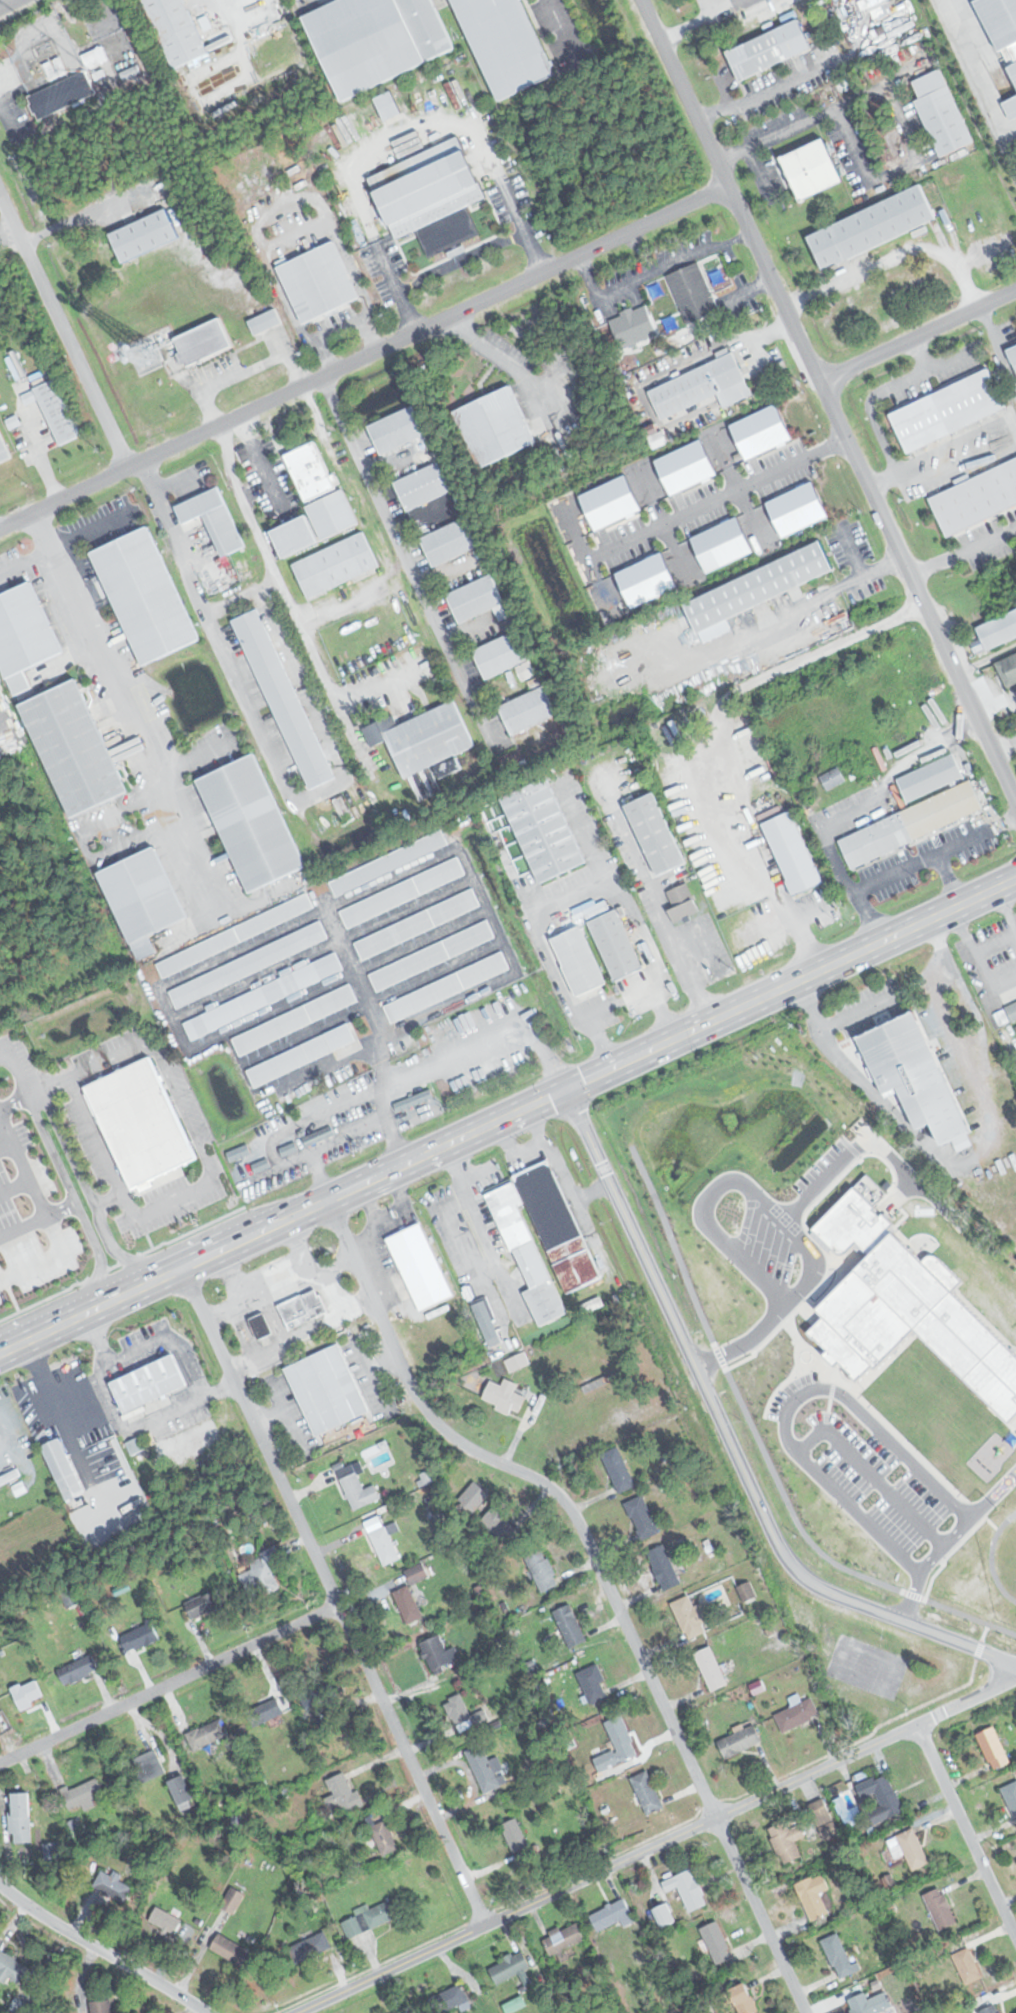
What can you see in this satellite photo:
road: (7, 3)
building: (1000, 19)
road: (692, 23)
building: (430, 26)
road: (560, 26)
building: (175, 29)
building: (365, 42)
building: (505, 44)
building: (769, 49)
building: (1013, 66)
building: (61, 94)
building: (388, 105)
building: (1011, 107)
building: (942, 112)
building: (813, 168)
building: (431, 196)
building: (873, 226)
building: (145, 235)
road: (891, 258)
road: (458, 259)
building: (318, 282)
building: (698, 287)
building: (265, 322)
building: (633, 326)
road: (63, 333)
road: (916, 335)
building: (203, 342)
building: (1014, 352)
road: (363, 356)
road: (507, 360)
building: (701, 387)
road: (828, 404)
building: (948, 410)
building: (58, 411)
building: (495, 426)
building: (397, 430)
building: (3, 451)
building: (310, 471)
building: (423, 486)
road: (721, 495)
building: (977, 498)
building: (213, 518)
building: (317, 523)
building: (449, 542)
road: (59, 544)
road: (396, 546)
building: (335, 565)
road: (277, 582)
building: (753, 590)
building: (149, 595)
building: (477, 599)
road: (878, 616)
building: (998, 630)
building: (24, 636)
building: (506, 657)
building: (1009, 669)
road: (120, 697)
building: (283, 698)
building: (528, 710)
building: (427, 738)
building: (80, 747)
road: (194, 758)
building: (926, 776)
building: (832, 779)
building: (259, 822)
building: (906, 823)
building: (535, 828)
building: (655, 834)
building: (786, 852)
building: (388, 863)
building: (402, 892)
building: (145, 898)
road: (568, 899)
road: (659, 902)
building: (682, 902)
road: (785, 913)
building: (417, 924)
building: (235, 935)
building: (608, 942)
building: (431, 956)
building: (570, 960)
building: (247, 965)
building: (446, 987)
building: (262, 996)
road: (882, 1000)
building: (1011, 1011)
building: (294, 1019)
road: (470, 1049)
building: (300, 1055)
road: (20, 1072)
building: (918, 1076)
traffic signals: (565, 1089)
road: (16, 1099)
building: (414, 1101)
road: (507, 1115)
building: (143, 1121)
road: (346, 1136)
road: (6, 1147)
road: (205, 1161)
road: (15, 1186)
road: (107, 1198)
road: (92, 1204)
road: (76, 1206)
road: (775, 1213)
road: (45, 1214)
parking lot: (29, 1215)
building: (857, 1224)
road: (23, 1225)
building: (543, 1238)
building: (420, 1267)
building: (762, 1283)
building: (586, 1295)
building: (304, 1307)
building: (915, 1319)
building: (487, 1323)
building: (784, 1349)
building: (148, 1386)
building: (327, 1390)
building: (503, 1397)
road: (846, 1397)
building: (901, 1408)
road: (728, 1441)
building: (135, 1446)
building: (63, 1470)
building: (618, 1470)
building: (980, 1470)
road: (872, 1473)
building: (357, 1487)
building: (474, 1497)
building: (641, 1518)
building: (500, 1525)
building: (384, 1546)
building: (663, 1568)
building: (543, 1572)
building: (416, 1574)
road: (600, 1574)
building: (261, 1575)
building: (746, 1592)
road: (336, 1594)
building: (407, 1603)
building: (205, 1605)
building: (690, 1617)
building: (569, 1627)
building: (139, 1638)
building: (436, 1654)
building: (710, 1668)
building: (77, 1670)
road: (170, 1682)
building: (592, 1682)
building: (320, 1693)
building: (264, 1711)
building: (459, 1711)
building: (797, 1714)
building: (207, 1734)
building: (619, 1741)
building: (739, 1741)
building: (994, 1749)
building: (148, 1765)
building: (486, 1769)
building: (182, 1792)
building: (647, 1792)
building: (82, 1793)
building: (342, 1794)
building: (887, 1795)
building: (1011, 1795)
building: (821, 1811)
building: (20, 1818)
road: (966, 1833)
building: (515, 1835)
building: (384, 1837)
building: (785, 1839)
road: (655, 1845)
building: (911, 1848)
building: (112, 1884)
building: (687, 1888)
building: (813, 1895)
building: (940, 1908)
building: (610, 1914)
building: (374, 1915)
building: (666, 1915)
building: (165, 1920)
building: (563, 1941)
building: (716, 1941)
building: (310, 1947)
road: (100, 1950)
building: (231, 1950)
building: (835, 1950)
building: (966, 1964)
building: (509, 1967)
building: (11, 1969)
building: (453, 1997)
building: (872, 2003)
building: (102, 2006)
building: (990, 2009)

